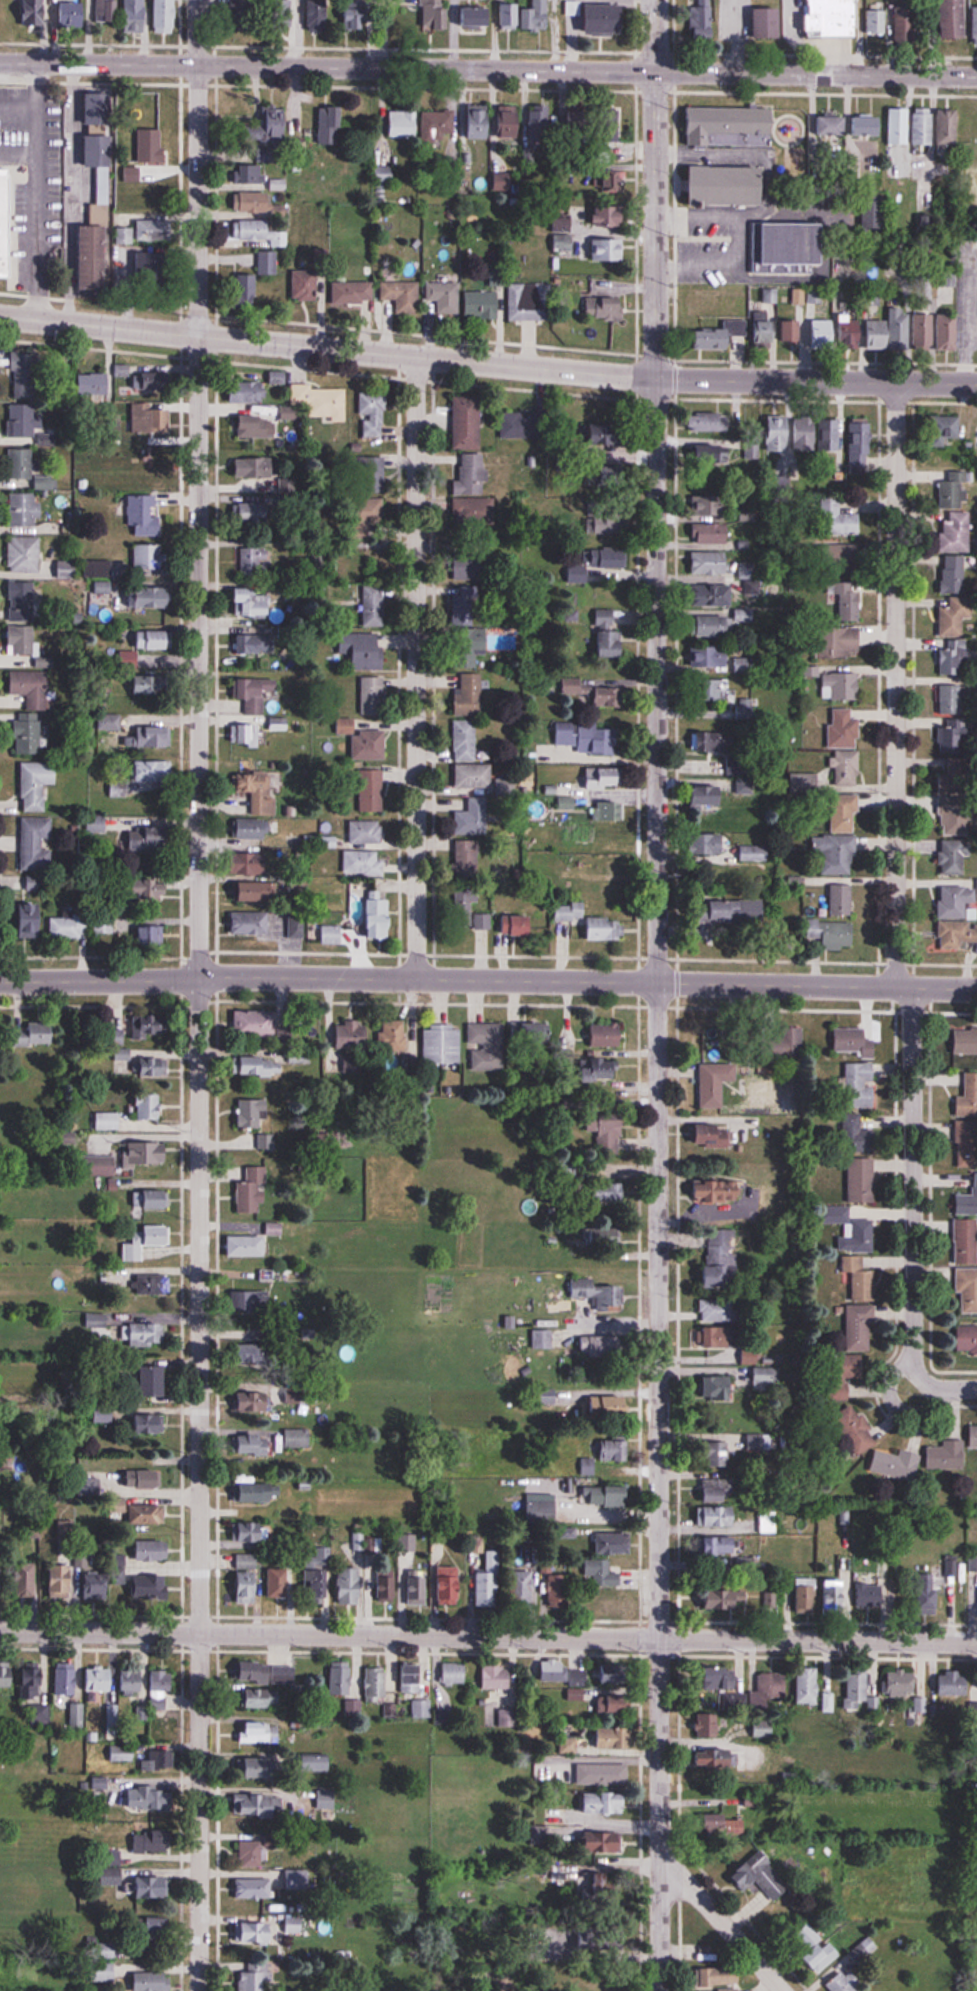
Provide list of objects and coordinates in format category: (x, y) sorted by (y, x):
building: (372, 6)
building: (573, 8)
building: (106, 11)
building: (31, 12)
building: (7, 13)
building: (319, 14)
building: (433, 14)
building: (540, 14)
building: (73, 15)
building: (166, 16)
building: (514, 16)
building: (827, 16)
building: (137, 17)
building: (477, 17)
building: (607, 18)
building: (354, 19)
building: (956, 19)
building: (876, 22)
building: (758, 23)
building: (975, 25)
road: (488, 69)
building: (613, 118)
building: (584, 121)
building: (480, 122)
building: (510, 122)
building: (541, 122)
building: (404, 123)
building: (330, 125)
building: (437, 125)
building: (832, 125)
building: (272, 126)
building: (868, 126)
building: (912, 126)
building: (946, 128)
building: (728, 129)
building: (152, 146)
road: (739, 152)
building: (249, 174)
building: (102, 177)
building: (502, 182)
building: (614, 183)
building: (730, 186)
road: (657, 189)
building: (251, 203)
road: (697, 212)
building: (874, 214)
building: (6, 225)
building: (153, 227)
road: (822, 227)
building: (256, 232)
building: (563, 233)
building: (122, 236)
building: (787, 247)
building: (609, 251)
building: (95, 259)
road: (696, 262)
building: (158, 272)
building: (305, 285)
building: (252, 292)
building: (353, 293)
building: (403, 296)
building: (445, 297)
building: (798, 298)
building: (530, 303)
building: (483, 305)
building: (706, 307)
building: (606, 309)
building: (766, 330)
building: (851, 332)
building: (937, 333)
building: (722, 336)
road: (328, 348)
building: (122, 370)
building: (23, 372)
building: (99, 381)
road: (816, 381)
building: (149, 382)
building: (251, 393)
building: (322, 402)
building: (374, 415)
building: (150, 419)
building: (24, 422)
building: (706, 422)
building: (467, 425)
building: (524, 425)
building: (256, 428)
building: (940, 429)
building: (805, 434)
building: (779, 435)
building: (831, 435)
building: (859, 444)
building: (712, 455)
building: (22, 464)
building: (375, 464)
building: (255, 468)
building: (153, 471)
building: (468, 474)
building: (614, 476)
building: (953, 490)
building: (713, 505)
building: (25, 509)
building: (473, 509)
building: (254, 512)
building: (370, 512)
building: (144, 516)
building: (843, 523)
building: (710, 533)
building: (955, 533)
building: (375, 549)
building: (25, 554)
building: (149, 558)
building: (611, 560)
building: (255, 562)
building: (709, 563)
building: (67, 568)
building: (953, 574)
building: (752, 588)
building: (711, 595)
building: (151, 597)
building: (22, 598)
building: (252, 602)
building: (374, 606)
building: (464, 606)
building: (850, 607)
building: (953, 620)
building: (713, 626)
building: (607, 633)
building: (22, 640)
building: (845, 642)
building: (146, 646)
building: (467, 649)
building: (368, 652)
building: (723, 659)
building: (952, 660)
road: (416, 667)
building: (27, 682)
building: (144, 685)
building: (841, 687)
building: (720, 691)
building: (469, 694)
building: (259, 695)
building: (373, 696)
building: (951, 699)
building: (746, 708)
building: (109, 722)
building: (28, 733)
building: (245, 735)
building: (152, 737)
building: (587, 739)
building: (465, 740)
building: (950, 740)
building: (710, 743)
building: (370, 745)
building: (845, 749)
building: (147, 774)
building: (473, 775)
building: (954, 777)
building: (604, 778)
building: (37, 784)
building: (371, 788)
building: (260, 792)
building: (709, 797)
building: (607, 811)
building: (845, 813)
building: (472, 817)
building: (954, 818)
building: (96, 823)
building: (248, 829)
building: (365, 832)
building: (607, 835)
building: (149, 839)
building: (36, 843)
building: (710, 845)
building: (754, 853)
building: (836, 854)
building: (466, 858)
building: (953, 858)
building: (364, 863)
building: (258, 878)
road: (895, 885)
building: (137, 889)
building: (161, 890)
building: (841, 900)
building: (470, 911)
building: (737, 911)
building: (958, 917)
building: (31, 920)
building: (376, 921)
building: (591, 921)
building: (252, 923)
building: (105, 924)
building: (69, 926)
building: (333, 934)
building: (832, 934)
building: (152, 935)
road: (488, 979)
road: (199, 995)
building: (256, 1023)
building: (146, 1026)
building: (537, 1030)
building: (43, 1031)
building: (353, 1031)
building: (607, 1034)
building: (393, 1035)
building: (789, 1041)
building: (854, 1042)
building: (442, 1043)
building: (487, 1045)
building: (300, 1056)
building: (140, 1064)
building: (261, 1065)
building: (603, 1068)
building: (716, 1083)
building: (860, 1085)
building: (968, 1096)
building: (151, 1105)
building: (253, 1113)
building: (108, 1120)
building: (968, 1131)
building: (608, 1132)
building: (856, 1134)
building: (719, 1136)
building: (159, 1152)
building: (254, 1179)
building: (862, 1180)
road: (658, 1185)
building: (719, 1189)
building: (610, 1191)
building: (150, 1200)
building: (967, 1201)
building: (275, 1228)
building: (603, 1234)
building: (857, 1235)
building: (965, 1240)
building: (147, 1241)
building: (247, 1245)
building: (721, 1266)
building: (860, 1278)
building: (153, 1284)
building: (597, 1289)
building: (967, 1289)
building: (259, 1301)
building: (717, 1310)
building: (860, 1326)
building: (148, 1333)
building: (708, 1337)
building: (967, 1337)
building: (602, 1344)
building: (851, 1377)
building: (155, 1380)
building: (720, 1387)
road: (949, 1390)
building: (253, 1395)
building: (611, 1406)
building: (103, 1414)
building: (150, 1423)
building: (856, 1428)
building: (973, 1435)
building: (297, 1437)
building: (254, 1441)
building: (756, 1442)
building: (615, 1449)
building: (718, 1450)
building: (945, 1454)
building: (897, 1463)
building: (143, 1477)
building: (254, 1492)
building: (719, 1492)
building: (611, 1494)
building: (119, 1507)
building: (542, 1510)
building: (147, 1513)
building: (717, 1515)
building: (768, 1519)
building: (252, 1531)
building: (614, 1541)
building: (719, 1544)
building: (152, 1549)
building: (247, 1560)
building: (972, 1561)
building: (747, 1563)
building: (602, 1572)
building: (319, 1574)
building: (1, 1577)
building: (121, 1577)
building: (61, 1579)
building: (489, 1580)
building: (26, 1581)
building: (97, 1582)
building: (281, 1583)
building: (350, 1585)
building: (385, 1585)
building: (448, 1585)
building: (248, 1586)
building: (525, 1587)
building: (154, 1588)
building: (558, 1589)
building: (417, 1590)
building: (874, 1593)
building: (836, 1594)
building: (807, 1595)
building: (726, 1599)
building: (768, 1600)
building: (925, 1601)
building: (625, 1608)
road: (488, 1636)
building: (553, 1671)
building: (268, 1673)
building: (455, 1673)
building: (7, 1676)
building: (411, 1676)
building: (341, 1677)
building: (497, 1677)
building: (725, 1678)
building: (66, 1679)
building: (100, 1680)
building: (31, 1681)
building: (133, 1682)
building: (378, 1683)
building: (901, 1683)
building: (163, 1684)
building: (954, 1684)
building: (858, 1685)
building: (808, 1686)
building: (771, 1687)
building: (263, 1698)
building: (828, 1702)
building: (619, 1704)
building: (350, 1707)
building: (422, 1708)
building: (40, 1715)
building: (508, 1718)
building: (707, 1724)
building: (763, 1728)
building: (256, 1732)
building: (613, 1737)
building: (718, 1758)
building: (157, 1761)
building: (261, 1767)
building: (602, 1773)
building: (151, 1799)
building: (606, 1802)
building: (261, 1805)
building: (726, 1824)
building: (539, 1834)
building: (607, 1840)
building: (760, 1876)
building: (293, 1880)
building: (604, 1884)
building: (154, 1888)
building: (255, 1889)
road: (722, 1920)
building: (161, 1925)
building: (259, 1932)
building: (595, 1936)
building: (817, 1948)
building: (863, 1949)
building: (103, 1971)
building: (725, 1975)
building: (256, 1977)
building: (847, 1982)
building: (729, 1990)

